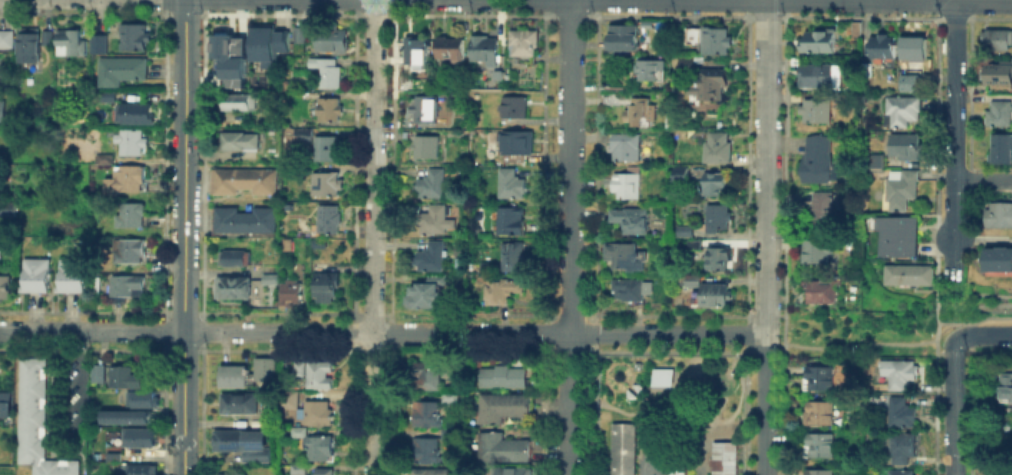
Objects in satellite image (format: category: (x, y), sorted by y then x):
road: (983, 0)
building: (137, 36)
building: (299, 37)
building: (624, 37)
building: (7, 38)
building: (74, 42)
building: (715, 42)
building: (822, 42)
building: (998, 42)
building: (269, 43)
building: (335, 43)
building: (525, 43)
building: (34, 45)
building: (100, 45)
building: (883, 48)
building: (916, 48)
building: (452, 49)
building: (486, 49)
building: (416, 51)
building: (227, 57)
building: (687, 65)
building: (652, 72)
building: (122, 74)
building: (328, 74)
building: (499, 74)
building: (998, 75)
building: (817, 77)
building: (906, 81)
building: (711, 84)
building: (109, 98)
building: (237, 103)
building: (1, 108)
building: (515, 109)
building: (425, 110)
building: (329, 112)
building: (642, 112)
building: (903, 113)
building: (135, 114)
building: (817, 114)
building: (1000, 115)
road: (953, 119)
building: (300, 130)
building: (239, 142)
building: (131, 144)
building: (517, 145)
building: (328, 148)
building: (426, 148)
building: (628, 148)
building: (719, 148)
building: (907, 149)
building: (1002, 149)
building: (820, 160)
building: (875, 163)
road: (569, 166)
building: (681, 176)
road: (982, 180)
building: (128, 181)
building: (243, 182)
building: (628, 184)
building: (433, 185)
building: (716, 185)
building: (327, 186)
building: (511, 186)
building: (902, 192)
building: (5, 204)
building: (820, 210)
building: (132, 215)
building: (998, 217)
building: (329, 219)
building: (632, 219)
building: (719, 219)
building: (430, 221)
building: (245, 222)
building: (511, 222)
building: (685, 232)
road: (183, 237)
road: (374, 237)
road: (765, 237)
building: (903, 237)
road: (944, 244)
building: (288, 246)
building: (694, 246)
building: (131, 252)
building: (816, 252)
building: (624, 255)
building: (235, 258)
building: (432, 258)
building: (513, 260)
building: (720, 260)
building: (999, 261)
building: (913, 276)
building: (36, 277)
building: (71, 278)
building: (270, 280)
building: (4, 284)
building: (325, 285)
building: (127, 286)
building: (236, 289)
building: (502, 292)
building: (629, 292)
building: (429, 293)
building: (823, 294)
building: (714, 295)
building: (292, 296)
road: (959, 323)
road: (936, 330)
road: (186, 331)
road: (421, 332)
road: (617, 333)
road: (983, 334)
road: (849, 344)
building: (263, 367)
road: (569, 368)
road: (572, 368)
road: (80, 369)
building: (100, 372)
building: (320, 374)
building: (901, 375)
building: (659, 376)
building: (235, 377)
building: (127, 378)
building: (501, 378)
building: (427, 379)
building: (821, 379)
building: (1005, 388)
building: (141, 397)
building: (449, 398)
building: (3, 400)
building: (290, 401)
park: (647, 403)
building: (241, 404)
road: (952, 406)
building: (503, 410)
building: (818, 413)
building: (317, 414)
building: (902, 414)
building: (427, 416)
building: (128, 418)
building: (38, 422)
building: (298, 431)
building: (449, 433)
building: (138, 439)
road: (566, 439)
building: (244, 445)
building: (818, 446)
building: (504, 448)
building: (624, 448)
building: (903, 448)
building: (321, 449)
building: (426, 451)
building: (115, 458)
building: (725, 458)
building: (676, 465)
building: (298, 469)
building: (142, 470)
building: (512, 471)
building: (325, 472)
building: (430, 472)
building: (819, 472)
building: (902, 472)
building: (228, 473)

